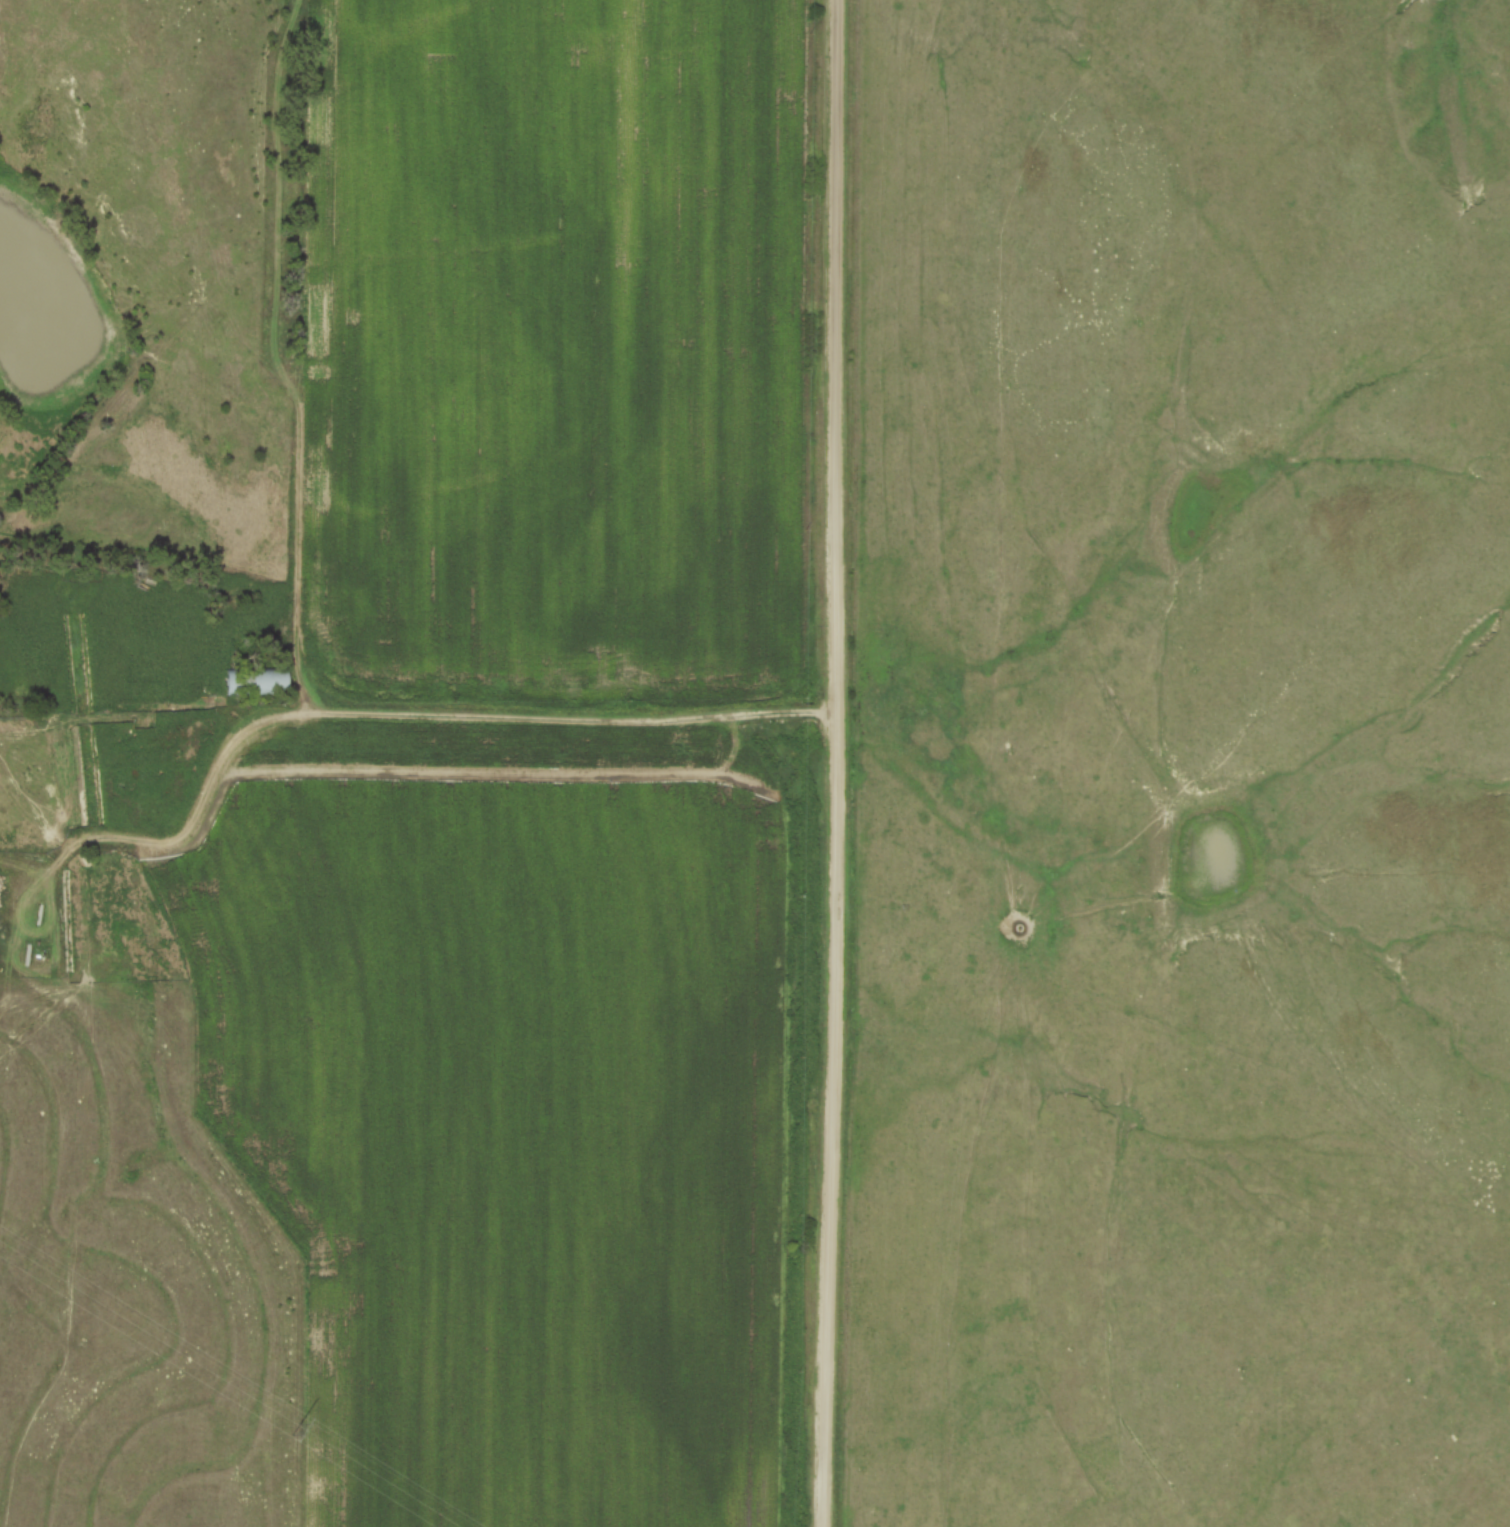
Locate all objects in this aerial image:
crop: (551, 349)
building: (253, 683)
road: (381, 714)
road: (835, 763)
crop: (508, 1110)
power tower: (294, 1429)

